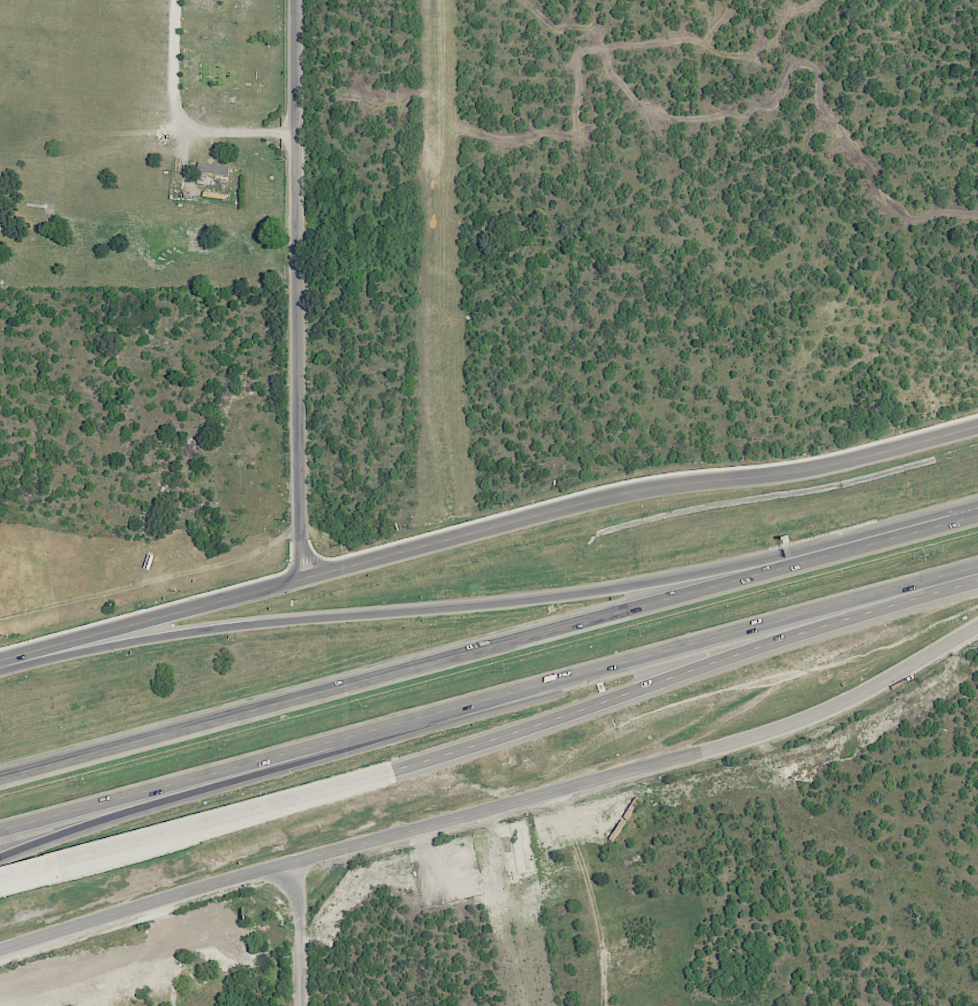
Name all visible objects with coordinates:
road: (182, 119)
park: (142, 144)
building: (212, 168)
road: (297, 290)
road: (636, 491)
road: (896, 538)
building: (148, 561)
road: (930, 579)
road: (420, 602)
road: (150, 621)
road: (406, 669)
road: (440, 710)
road: (471, 748)
building: (629, 807)
road: (497, 809)
road: (82, 821)
building: (615, 828)
road: (25, 875)
road: (310, 931)

